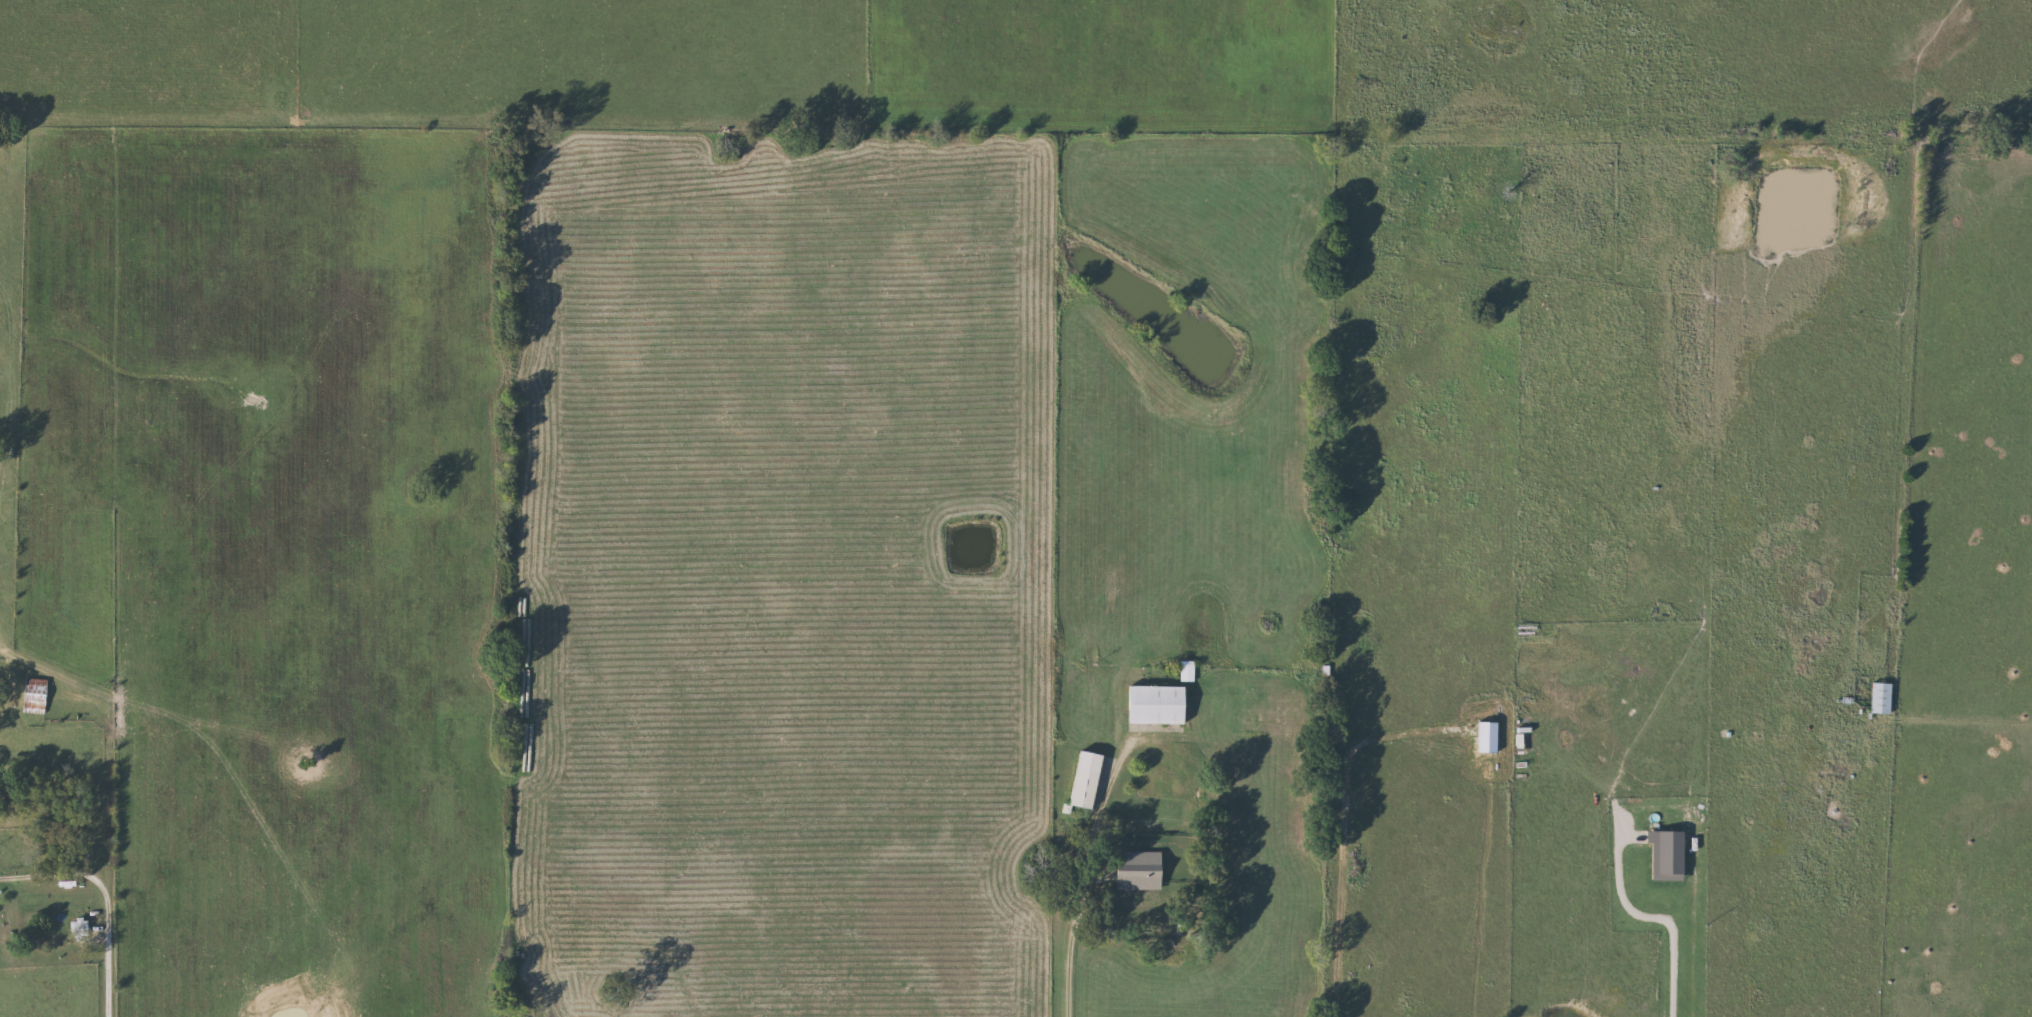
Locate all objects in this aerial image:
building: (1188, 670)
building: (38, 695)
building: (1883, 697)
building: (1160, 703)
building: (1090, 779)
road: (1346, 830)
building: (1143, 869)
road: (106, 897)
road: (1672, 908)
building: (81, 928)
road: (1070, 940)

